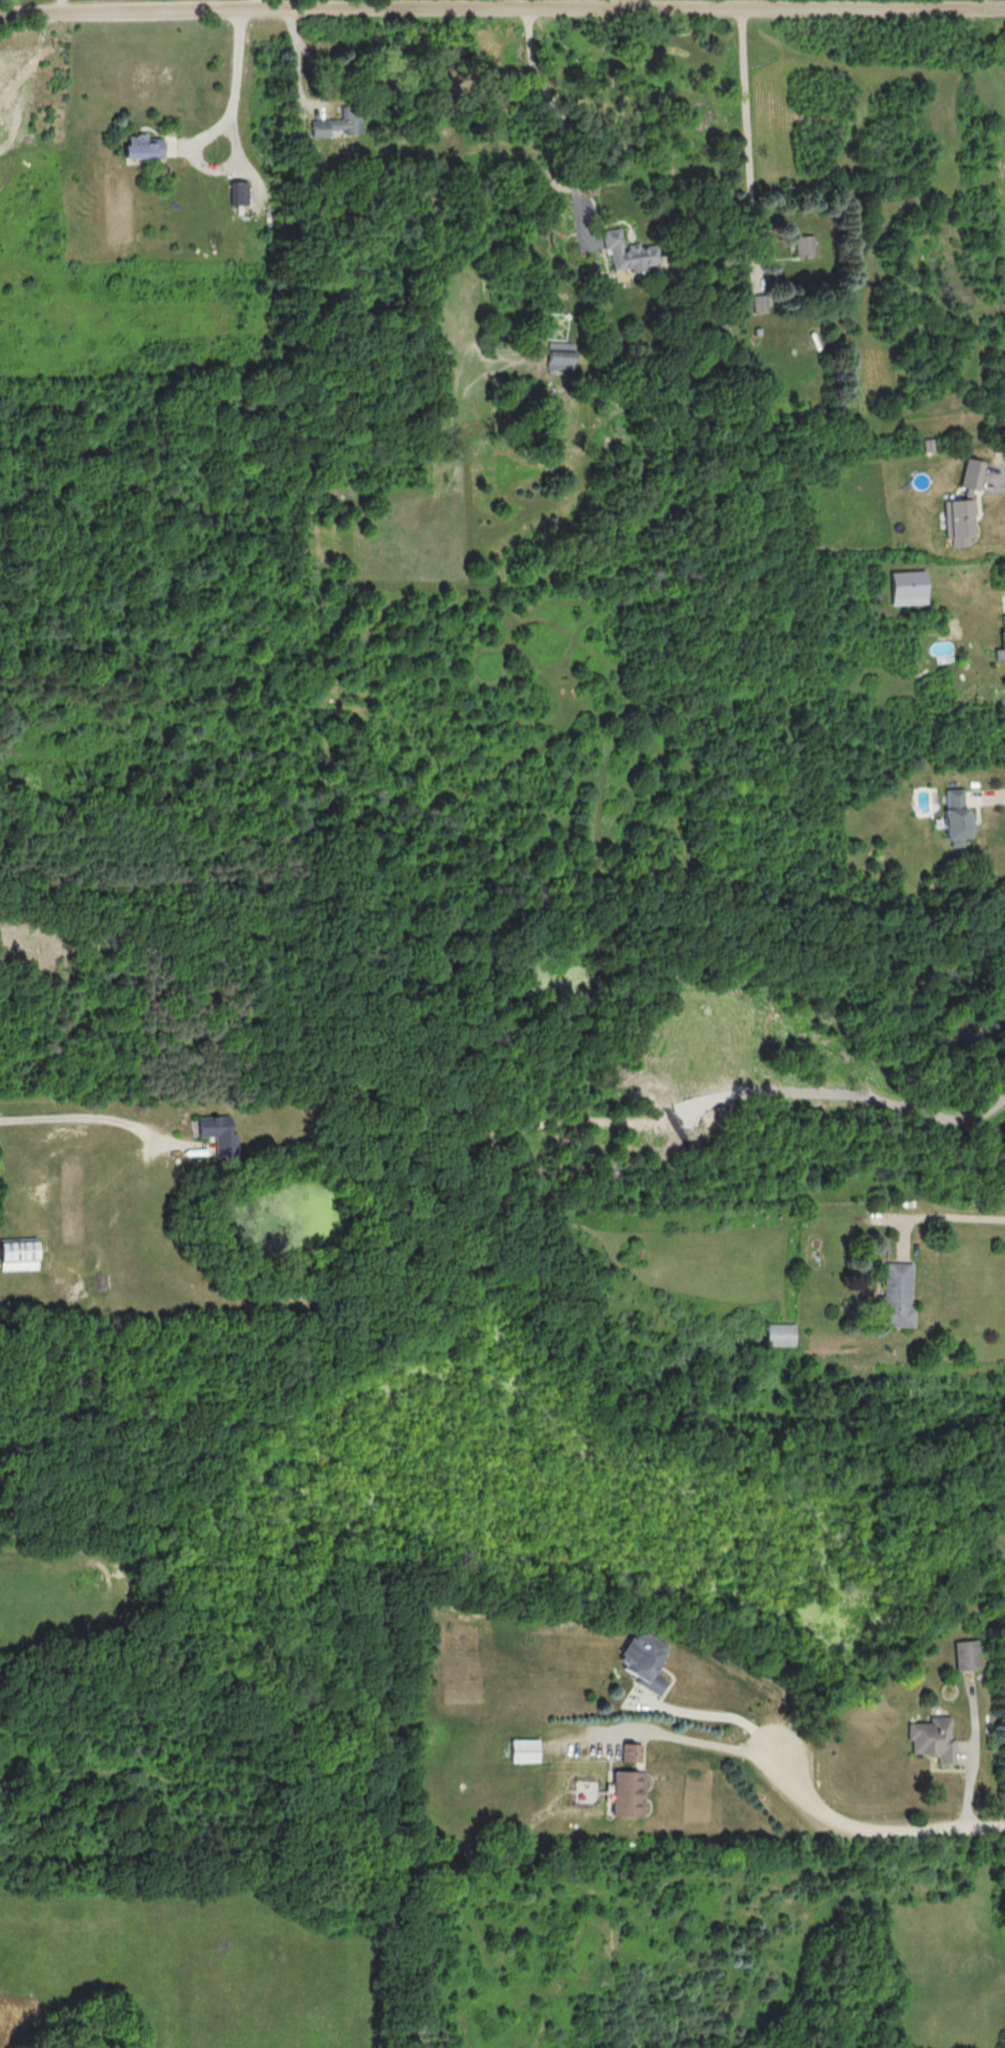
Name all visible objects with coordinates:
road: (257, 5)
road: (62, 7)
road: (502, 8)
road: (300, 97)
road: (563, 113)
building: (337, 123)
road: (231, 129)
road: (749, 141)
building: (143, 147)
building: (240, 192)
building: (804, 245)
building: (627, 252)
building: (762, 303)
building: (560, 356)
building: (971, 474)
road: (997, 477)
building: (959, 519)
building: (908, 587)
building: (1001, 647)
road: (994, 799)
building: (956, 817)
road: (93, 1117)
building: (218, 1133)
road: (949, 1219)
building: (18, 1253)
building: (896, 1296)
building: (779, 1334)
building: (966, 1654)
building: (643, 1661)
building: (933, 1738)
road: (714, 1745)
building: (524, 1750)
building: (631, 1752)
road: (974, 1758)
building: (628, 1793)
road: (867, 1833)

